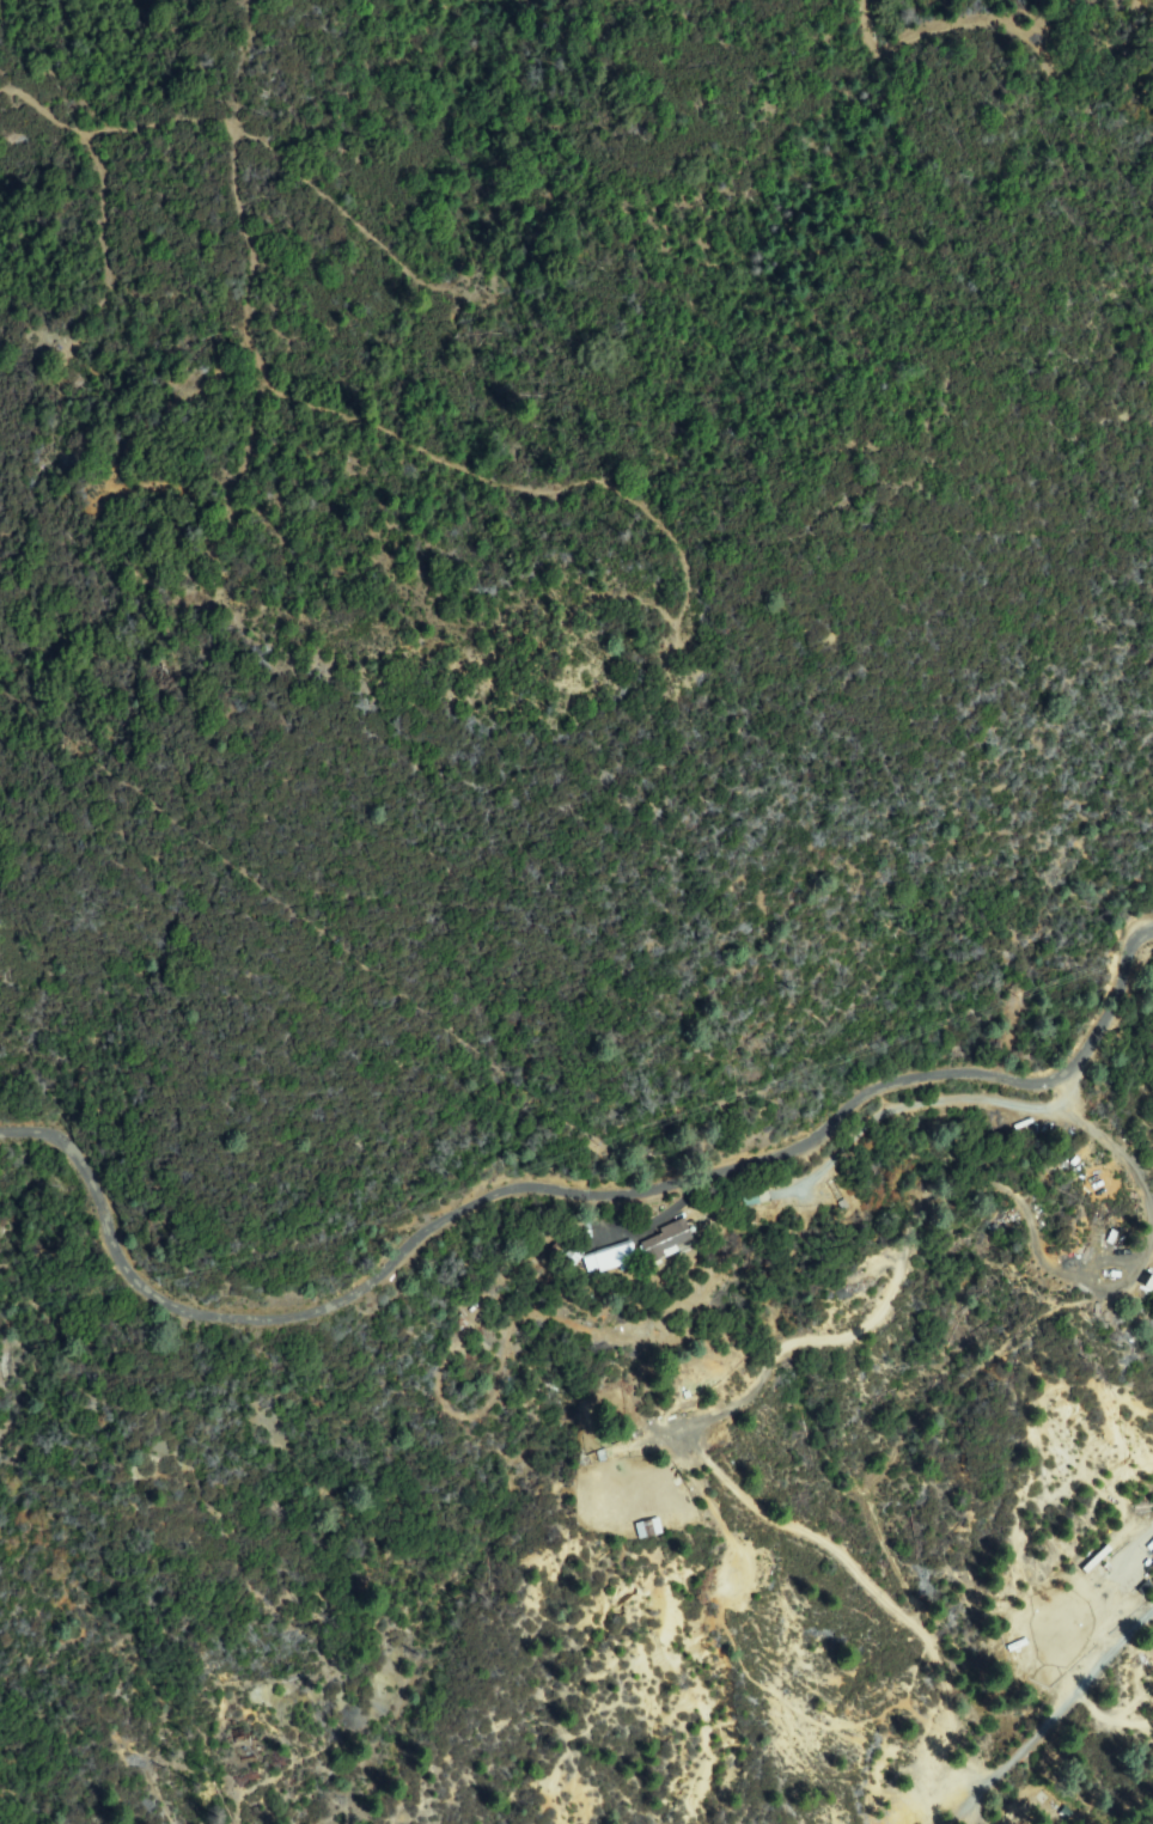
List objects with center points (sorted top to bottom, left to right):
road: (563, 1189)
building: (667, 1242)
building: (610, 1258)
building: (1140, 1286)
building: (643, 1529)
road: (1055, 1722)

